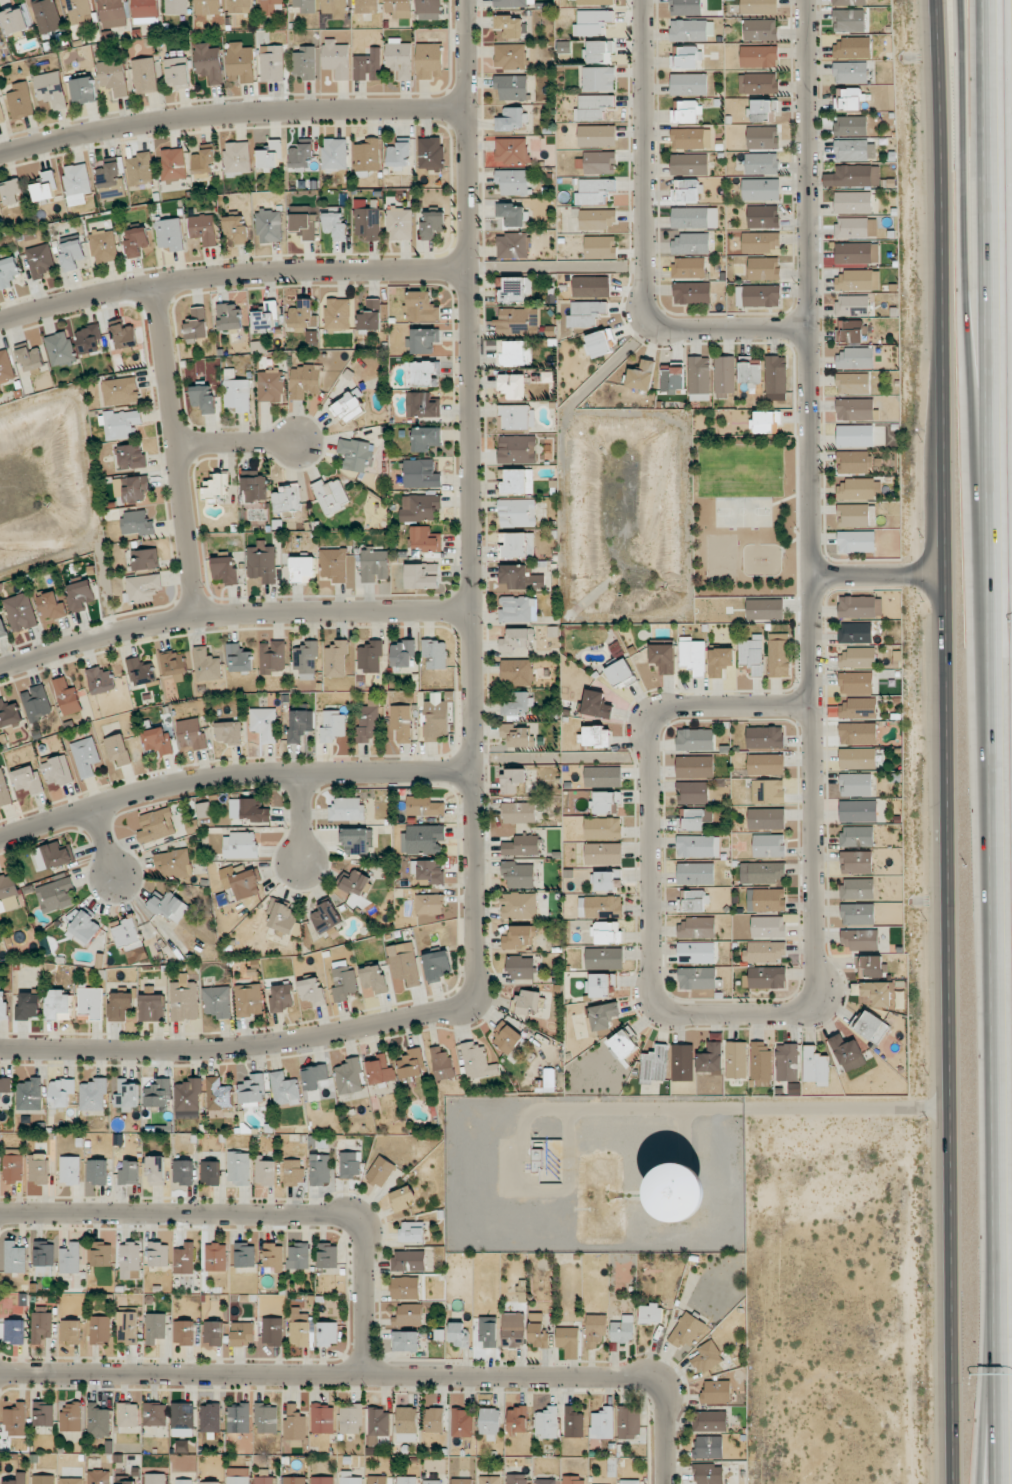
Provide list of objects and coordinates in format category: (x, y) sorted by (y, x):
building: (595, 2)
building: (849, 2)
building: (513, 3)
building: (305, 5)
building: (176, 6)
building: (208, 6)
building: (240, 6)
building: (334, 6)
building: (366, 6)
building: (759, 6)
building: (272, 7)
building: (685, 7)
building: (397, 8)
building: (429, 9)
building: (145, 11)
building: (79, 12)
building: (113, 13)
building: (47, 15)
building: (15, 20)
building: (849, 20)
building: (592, 22)
building: (511, 26)
building: (760, 29)
building: (688, 30)
building: (1, 46)
building: (564, 47)
building: (852, 48)
building: (600, 51)
building: (510, 56)
building: (687, 56)
building: (759, 56)
building: (399, 57)
building: (336, 58)
building: (428, 59)
building: (208, 62)
building: (240, 62)
building: (304, 62)
building: (272, 63)
building: (368, 65)
building: (176, 71)
building: (851, 72)
building: (144, 75)
building: (114, 77)
building: (599, 78)
building: (758, 82)
building: (689, 84)
building: (511, 87)
building: (51, 89)
building: (84, 90)
building: (849, 99)
building: (20, 101)
building: (593, 106)
building: (764, 110)
building: (686, 111)
building: (1, 114)
road: (230, 115)
building: (510, 119)
building: (851, 125)
building: (597, 136)
building: (763, 137)
building: (690, 138)
building: (512, 150)
building: (855, 150)
building: (430, 152)
building: (334, 154)
building: (398, 154)
building: (270, 155)
building: (300, 155)
building: (368, 155)
building: (237, 158)
building: (599, 162)
building: (203, 163)
building: (762, 163)
building: (173, 164)
building: (689, 164)
building: (140, 168)
building: (853, 176)
building: (110, 180)
building: (513, 182)
building: (77, 183)
building: (45, 189)
building: (760, 189)
building: (686, 190)
building: (11, 191)
building: (594, 191)
building: (853, 202)
building: (512, 214)
building: (763, 216)
building: (694, 217)
building: (596, 219)
building: (367, 220)
building: (400, 223)
building: (303, 224)
building: (432, 224)
building: (335, 225)
building: (269, 226)
building: (855, 227)
building: (203, 229)
building: (235, 229)
building: (170, 234)
building: (136, 242)
building: (761, 242)
road: (644, 243)
building: (691, 243)
building: (104, 245)
building: (512, 245)
building: (600, 247)
building: (857, 253)
building: (71, 254)
building: (39, 260)
building: (689, 267)
building: (764, 268)
building: (8, 272)
road: (231, 274)
building: (858, 280)
building: (591, 286)
building: (514, 288)
building: (692, 292)
building: (758, 296)
building: (852, 305)
building: (421, 307)
building: (585, 313)
building: (337, 314)
building: (302, 315)
building: (370, 315)
building: (228, 316)
building: (266, 316)
building: (512, 320)
building: (196, 324)
building: (849, 331)
building: (125, 336)
building: (89, 339)
building: (424, 340)
building: (598, 344)
building: (60, 349)
road: (973, 350)
building: (511, 353)
building: (30, 358)
building: (855, 358)
building: (6, 367)
building: (749, 371)
building: (421, 374)
building: (776, 374)
building: (641, 375)
building: (724, 376)
building: (699, 378)
building: (304, 380)
building: (673, 380)
building: (853, 383)
building: (270, 386)
building: (513, 386)
building: (120, 391)
building: (236, 392)
building: (203, 398)
building: (422, 405)
building: (348, 407)
building: (854, 409)
building: (513, 416)
building: (766, 422)
building: (120, 423)
building: (855, 435)
building: (426, 438)
road: (237, 444)
building: (517, 448)
road: (177, 452)
building: (356, 454)
building: (131, 456)
building: (853, 462)
building: (421, 474)
building: (517, 481)
building: (216, 487)
building: (255, 488)
building: (136, 489)
building: (856, 489)
building: (331, 495)
road: (791, 497)
building: (287, 498)
road: (471, 503)
building: (420, 507)
park: (744, 511)
building: (517, 512)
park: (746, 515)
building: (856, 515)
building: (137, 522)
road: (795, 538)
building: (426, 539)
building: (856, 541)
building: (517, 544)
building: (144, 559)
building: (262, 562)
building: (337, 565)
building: (374, 565)
building: (301, 569)
building: (225, 570)
road: (879, 573)
building: (422, 575)
building: (520, 577)
building: (142, 587)
road: (812, 588)
building: (80, 595)
building: (50, 605)
building: (860, 606)
building: (518, 609)
building: (764, 609)
building: (20, 612)
road: (232, 616)
building: (2, 627)
building: (855, 632)
building: (517, 640)
building: (402, 653)
building: (434, 654)
building: (752, 654)
building: (692, 655)
building: (778, 655)
building: (272, 656)
building: (369, 656)
building: (663, 657)
building: (856, 657)
building: (239, 658)
building: (335, 658)
building: (306, 660)
building: (720, 661)
building: (173, 663)
building: (206, 665)
building: (516, 671)
building: (140, 672)
building: (620, 673)
building: (100, 680)
building: (856, 682)
building: (67, 697)
building: (36, 703)
building: (517, 703)
building: (596, 704)
building: (9, 714)
building: (436, 718)
building: (368, 721)
building: (401, 722)
building: (264, 723)
building: (333, 725)
building: (297, 726)
building: (228, 732)
building: (858, 733)
building: (191, 734)
building: (516, 735)
building: (764, 737)
building: (695, 739)
building: (157, 740)
road: (948, 741)
road: (990, 742)
building: (118, 749)
building: (85, 756)
building: (857, 758)
building: (766, 764)
building: (695, 766)
building: (57, 771)
building: (603, 775)
road: (649, 776)
road: (232, 777)
building: (27, 779)
building: (512, 779)
building: (856, 784)
building: (4, 791)
building: (768, 791)
building: (692, 792)
building: (606, 802)
building: (424, 806)
building: (347, 809)
building: (248, 810)
building: (858, 810)
building: (519, 812)
road: (304, 818)
building: (766, 818)
building: (156, 825)
building: (603, 828)
building: (857, 836)
building: (425, 839)
building: (356, 840)
road: (106, 841)
building: (240, 845)
building: (521, 845)
building: (769, 845)
building: (698, 846)
building: (603, 853)
building: (53, 856)
building: (856, 862)
building: (173, 864)
building: (430, 871)
building: (766, 872)
building: (696, 873)
building: (519, 874)
building: (608, 880)
building: (242, 882)
building: (356, 883)
building: (857, 888)
building: (8, 893)
building: (56, 894)
building: (693, 900)
building: (766, 900)
building: (429, 904)
building: (519, 905)
building: (169, 906)
building: (600, 906)
building: (857, 914)
building: (326, 917)
building: (284, 918)
building: (84, 927)
building: (697, 927)
building: (768, 927)
building: (607, 933)
building: (128, 934)
building: (518, 937)
building: (859, 939)
building: (696, 952)
building: (765, 952)
building: (604, 957)
building: (404, 964)
building: (438, 965)
building: (870, 966)
building: (521, 967)
building: (767, 977)
building: (698, 978)
building: (344, 983)
building: (312, 991)
building: (878, 992)
building: (281, 997)
building: (184, 999)
building: (248, 999)
building: (898, 999)
building: (217, 1001)
building: (527, 1001)
building: (90, 1003)
building: (3, 1005)
building: (58, 1005)
building: (29, 1006)
building: (120, 1006)
building: (152, 1007)
building: (603, 1015)
building: (872, 1027)
building: (507, 1037)
building: (623, 1043)
road: (239, 1048)
building: (845, 1049)
building: (711, 1058)
building: (737, 1059)
building: (477, 1061)
building: (761, 1061)
building: (683, 1062)
building: (787, 1062)
building: (411, 1064)
building: (442, 1064)
building: (655, 1064)
building: (815, 1066)
building: (379, 1069)
building: (314, 1076)
building: (349, 1076)
building: (549, 1080)
building: (5, 1085)
building: (253, 1089)
building: (284, 1089)
building: (61, 1092)
building: (158, 1093)
building: (29, 1094)
building: (127, 1094)
building: (93, 1095)
building: (219, 1095)
building: (188, 1098)
road: (639, 1108)
building: (547, 1157)
building: (349, 1164)
building: (13, 1165)
building: (39, 1168)
building: (239, 1168)
building: (320, 1169)
building: (70, 1170)
building: (156, 1170)
building: (97, 1171)
building: (264, 1171)
building: (380, 1171)
building: (183, 1172)
building: (210, 1172)
building: (293, 1172)
building: (130, 1173)
building: (685, 1192)
building: (402, 1198)
road: (261, 1215)
building: (412, 1231)
building: (102, 1253)
building: (158, 1254)
building: (245, 1254)
building: (298, 1255)
building: (328, 1255)
building: (15, 1257)
building: (216, 1257)
building: (44, 1258)
building: (70, 1258)
building: (129, 1258)
building: (185, 1258)
building: (273, 1258)
building: (408, 1260)
building: (405, 1287)
building: (650, 1313)
building: (408, 1315)
building: (41, 1324)
building: (128, 1327)
building: (155, 1327)
building: (300, 1327)
building: (513, 1329)
building: (623, 1329)
building: (100, 1330)
building: (595, 1330)
building: (686, 1330)
building: (14, 1331)
building: (70, 1331)
building: (272, 1331)
building: (488, 1331)
building: (537, 1331)
building: (184, 1332)
building: (213, 1333)
building: (243, 1333)
building: (327, 1333)
building: (458, 1334)
building: (405, 1341)
building: (568, 1341)
building: (707, 1357)
road: (335, 1376)
building: (716, 1392)
road: (991, 1403)
building: (44, 1413)
building: (155, 1414)
building: (71, 1416)
building: (127, 1417)
building: (266, 1417)
building: (210, 1418)
building: (238, 1418)
building: (322, 1418)
building: (182, 1419)
building: (351, 1419)
building: (434, 1419)
building: (16, 1420)
building: (98, 1420)
building: (517, 1420)
building: (710, 1421)
building: (462, 1422)
building: (573, 1422)
building: (629, 1422)
building: (295, 1423)
building: (490, 1423)
building: (547, 1423)
building: (602, 1423)
building: (406, 1424)
building: (378, 1425)
road: (670, 1431)
building: (181, 1446)
building: (708, 1447)
building: (709, 1474)
building: (238, 1475)
building: (99, 1477)
building: (155, 1478)
building: (349, 1478)
building: (18, 1479)
building: (43, 1479)
building: (377, 1479)
building: (519, 1479)
building: (71, 1480)
building: (265, 1480)
building: (294, 1480)
building: (322, 1480)
building: (406, 1480)
building: (433, 1480)
building: (489, 1480)
building: (574, 1480)
building: (125, 1481)
building: (182, 1481)
building: (462, 1481)
building: (546, 1481)
building: (210, 1482)
building: (630, 1482)

